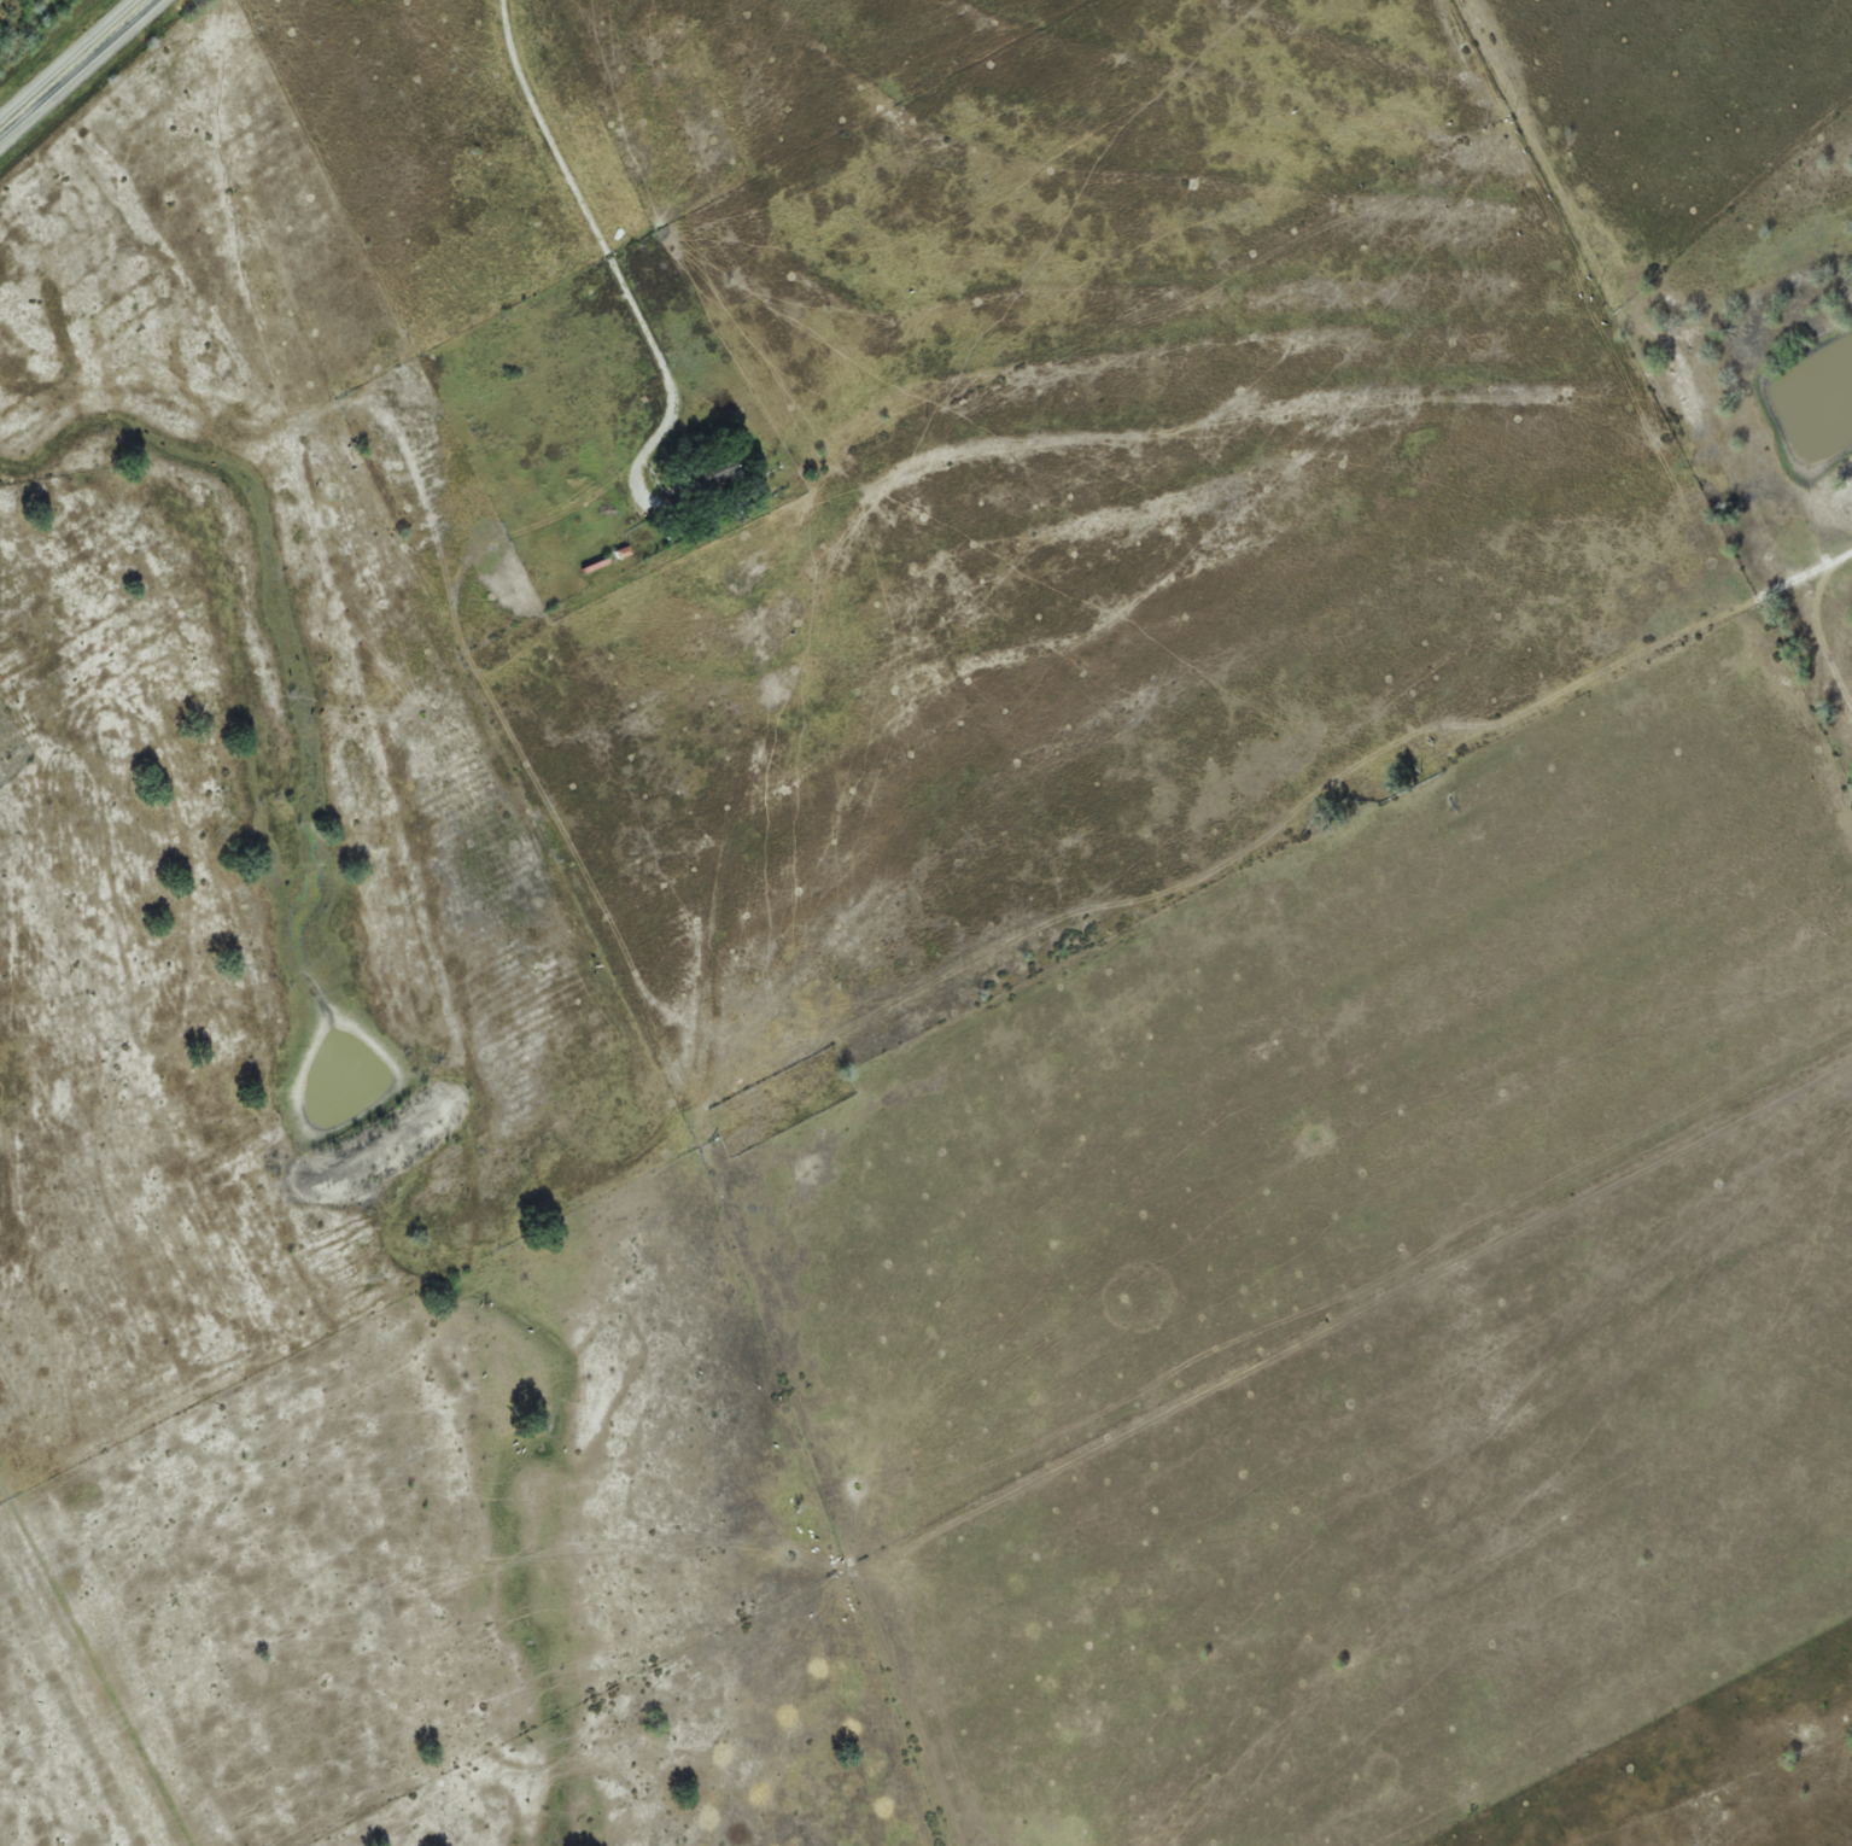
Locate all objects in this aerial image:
road: (74, 65)
road: (606, 259)
building: (717, 471)
road: (1805, 578)

